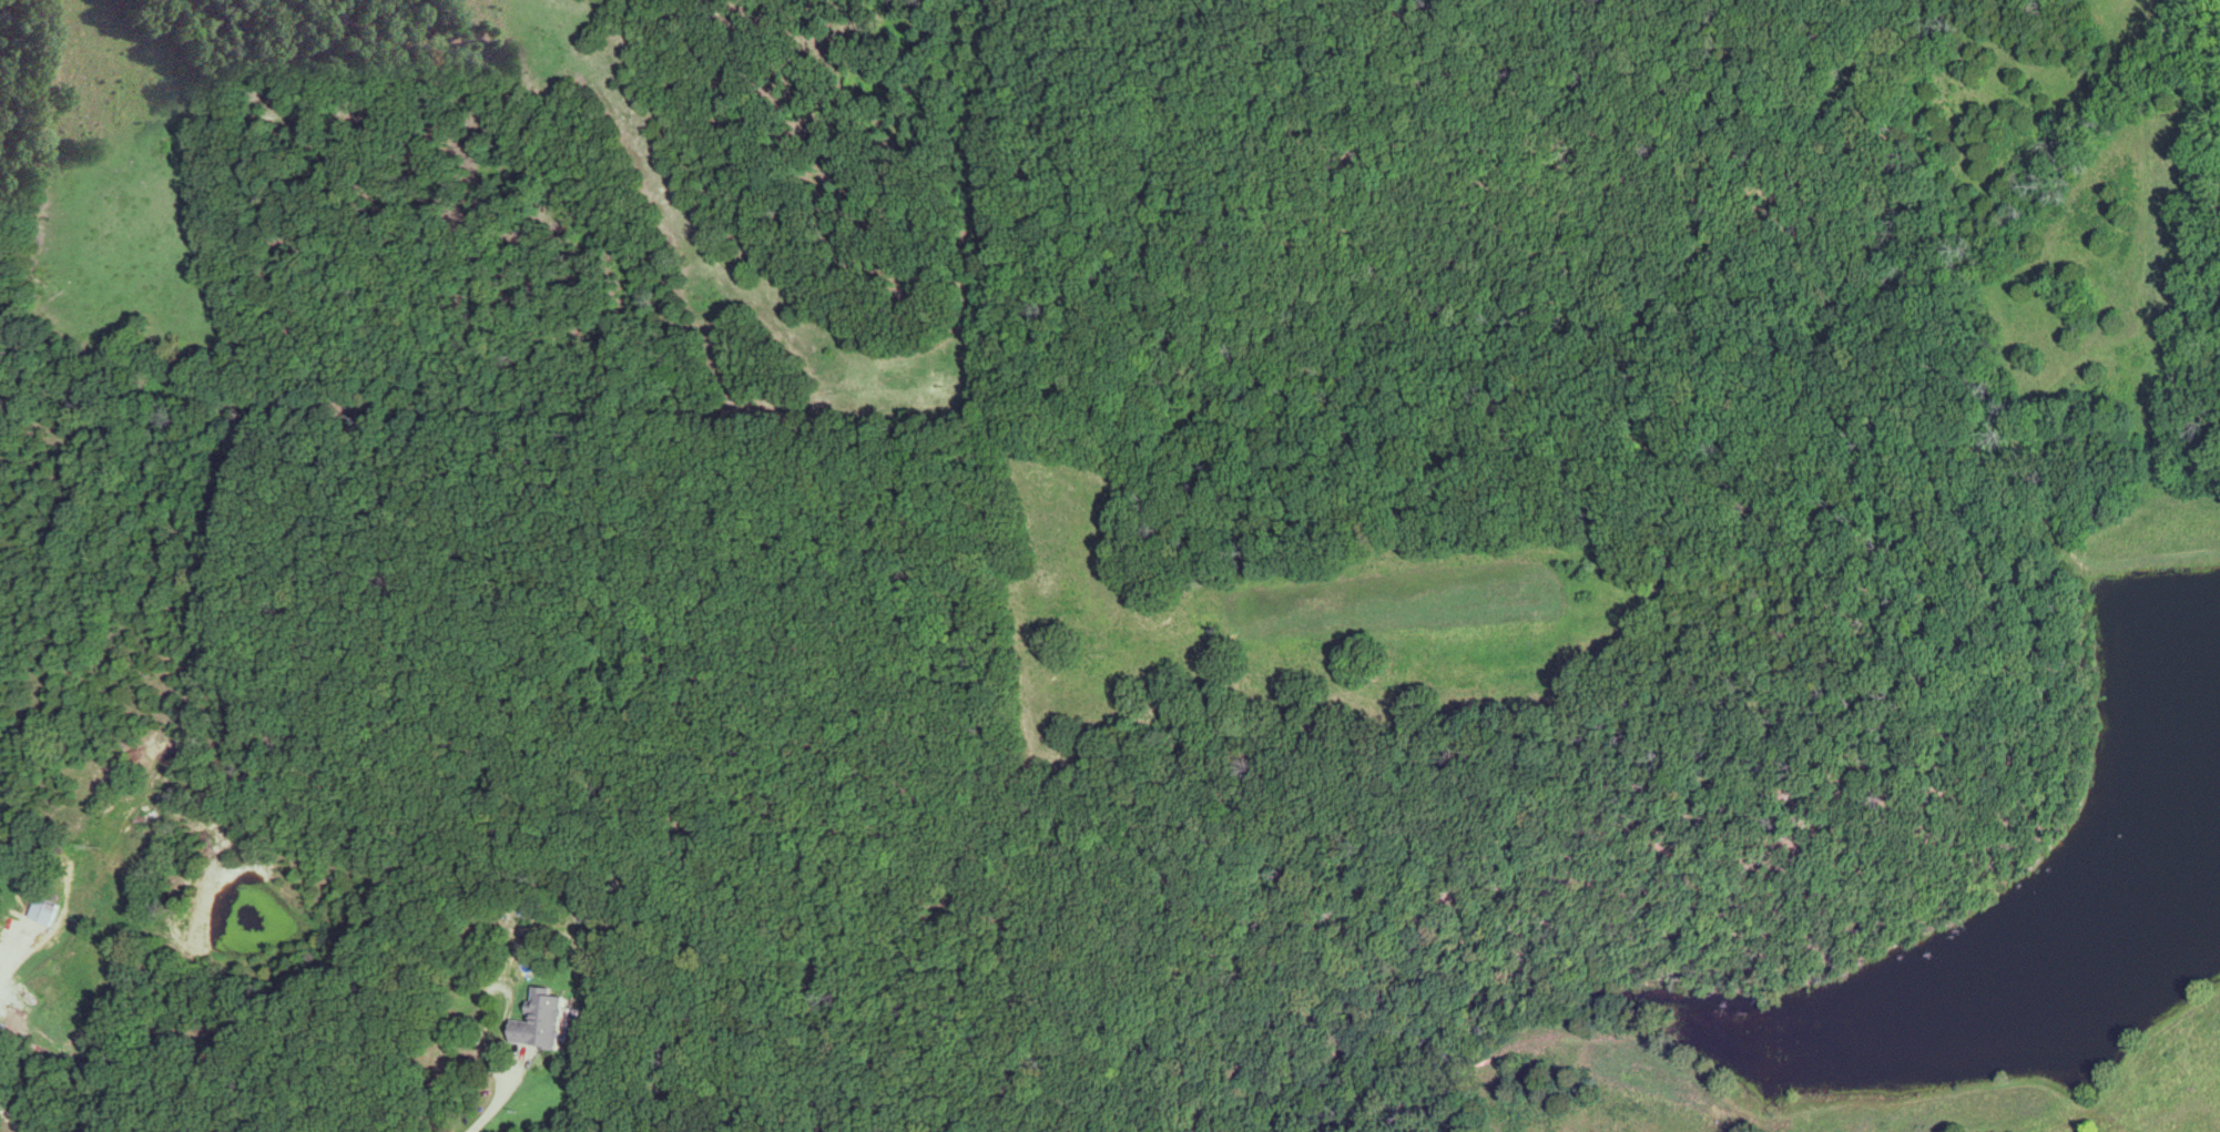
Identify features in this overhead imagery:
building: (37, 912)
building: (532, 1022)

